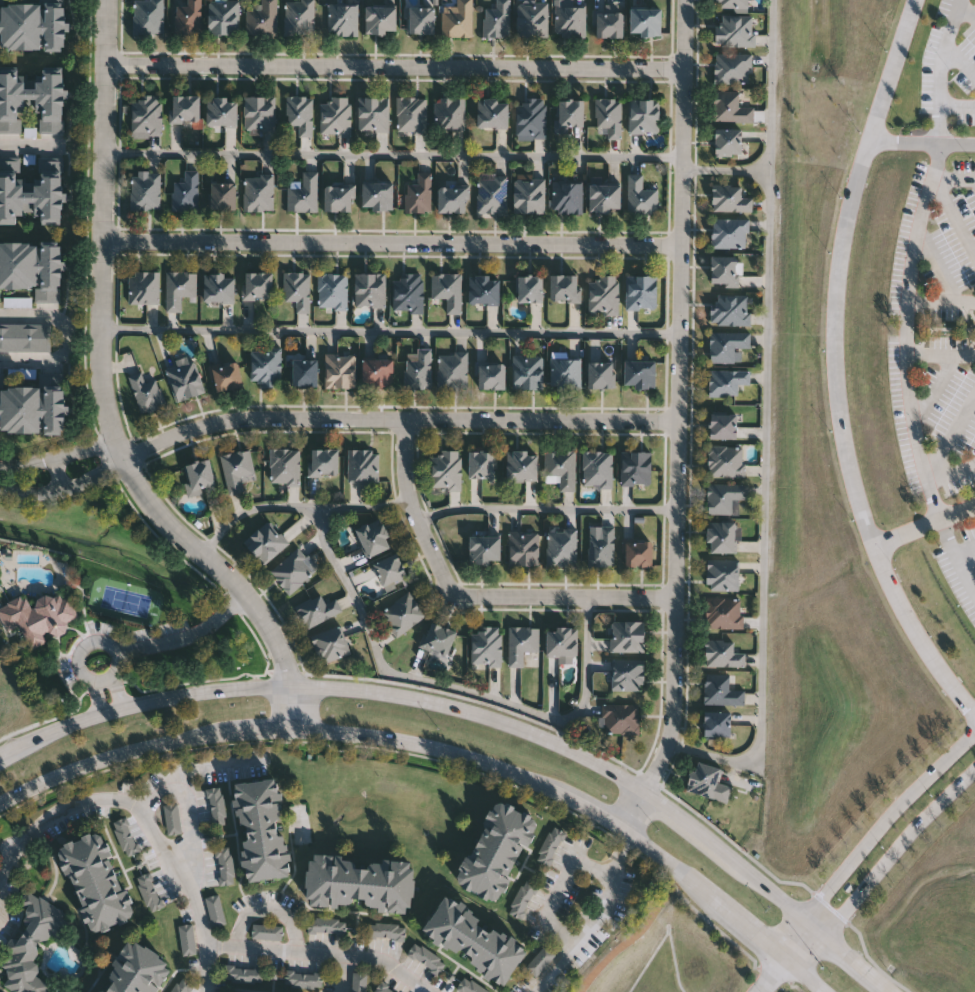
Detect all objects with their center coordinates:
building: (730, 3)
building: (149, 16)
building: (223, 16)
building: (188, 17)
building: (261, 17)
building: (299, 17)
building: (343, 18)
building: (379, 18)
building: (456, 18)
building: (531, 18)
road: (965, 18)
building: (420, 19)
building: (496, 19)
building: (569, 19)
building: (644, 20)
building: (608, 22)
building: (32, 25)
building: (734, 30)
road: (394, 63)
parking lot: (952, 64)
building: (732, 67)
building: (31, 100)
building: (730, 106)
building: (184, 108)
building: (221, 111)
building: (300, 112)
building: (492, 112)
building: (258, 113)
building: (373, 113)
building: (449, 113)
building: (567, 113)
building: (411, 114)
building: (146, 115)
building: (335, 115)
building: (608, 115)
building: (643, 115)
building: (530, 117)
building: (726, 141)
road: (923, 142)
road: (30, 146)
road: (393, 154)
road: (725, 169)
road: (953, 179)
building: (31, 190)
building: (145, 190)
building: (185, 191)
building: (258, 191)
building: (303, 192)
building: (528, 193)
building: (222, 194)
building: (376, 194)
building: (418, 194)
building: (491, 194)
building: (640, 195)
building: (567, 196)
building: (603, 196)
building: (338, 197)
building: (451, 198)
building: (729, 198)
road: (957, 215)
building: (728, 232)
road: (390, 241)
parking lot: (936, 246)
road: (912, 259)
road: (938, 263)
building: (32, 267)
building: (725, 270)
building: (257, 284)
building: (144, 286)
building: (179, 287)
building: (218, 287)
building: (564, 287)
building: (297, 288)
building: (529, 288)
building: (369, 289)
building: (447, 289)
building: (483, 289)
building: (332, 290)
building: (640, 291)
building: (407, 292)
building: (602, 293)
road: (941, 300)
building: (729, 308)
road: (972, 314)
road: (932, 326)
road: (390, 330)
road: (954, 330)
building: (26, 334)
road: (69, 334)
road: (972, 342)
building: (727, 344)
road: (940, 355)
building: (266, 364)
road: (841, 366)
building: (417, 367)
building: (452, 369)
building: (340, 370)
building: (527, 370)
building: (304, 371)
building: (376, 371)
building: (565, 372)
building: (638, 372)
building: (600, 373)
building: (24, 374)
building: (225, 374)
building: (490, 374)
building: (184, 378)
building: (726, 380)
road: (934, 391)
building: (146, 392)
road: (99, 395)
building: (34, 405)
parking lot: (934, 411)
road: (395, 417)
road: (676, 420)
road: (766, 422)
building: (721, 424)
road: (951, 437)
road: (59, 455)
road: (112, 457)
building: (725, 459)
building: (323, 461)
building: (362, 464)
building: (481, 464)
building: (521, 464)
building: (284, 465)
building: (560, 466)
building: (635, 467)
building: (237, 468)
building: (597, 468)
building: (445, 469)
road: (951, 472)
road: (8, 473)
building: (198, 475)
road: (1, 477)
road: (75, 482)
road: (17, 488)
building: (723, 495)
road: (295, 508)
road: (544, 509)
road: (926, 524)
building: (372, 536)
building: (721, 536)
building: (266, 541)
building: (560, 546)
building: (601, 546)
building: (523, 547)
building: (483, 548)
road: (965, 551)
building: (637, 552)
road: (968, 555)
road: (956, 556)
building: (293, 569)
building: (389, 569)
parking lot: (960, 572)
building: (721, 574)
road: (471, 595)
building: (317, 609)
building: (402, 612)
building: (723, 612)
building: (39, 616)
building: (626, 635)
building: (437, 638)
building: (560, 640)
building: (521, 642)
building: (329, 643)
road: (151, 645)
building: (485, 646)
building: (721, 653)
building: (627, 674)
road: (452, 689)
building: (720, 690)
road: (485, 711)
building: (620, 719)
building: (715, 723)
road: (417, 740)
road: (426, 758)
road: (195, 771)
building: (706, 780)
building: (219, 808)
building: (174, 821)
road: (882, 821)
road: (149, 823)
building: (262, 830)
road: (186, 831)
building: (128, 838)
road: (622, 844)
road: (16, 848)
road: (896, 849)
building: (496, 851)
building: (227, 867)
building: (96, 882)
building: (360, 884)
road: (557, 888)
building: (152, 893)
building: (524, 899)
road: (828, 909)
building: (218, 912)
building: (329, 927)
road: (587, 930)
building: (388, 932)
building: (269, 933)
road: (796, 937)
building: (474, 940)
building: (189, 941)
road: (628, 942)
road: (805, 944)
building: (32, 945)
road: (298, 952)
building: (428, 959)
building: (542, 962)
road: (870, 962)
building: (136, 971)
road: (770, 973)
road: (807, 973)
building: (246, 975)
building: (306, 980)
building: (361, 983)

